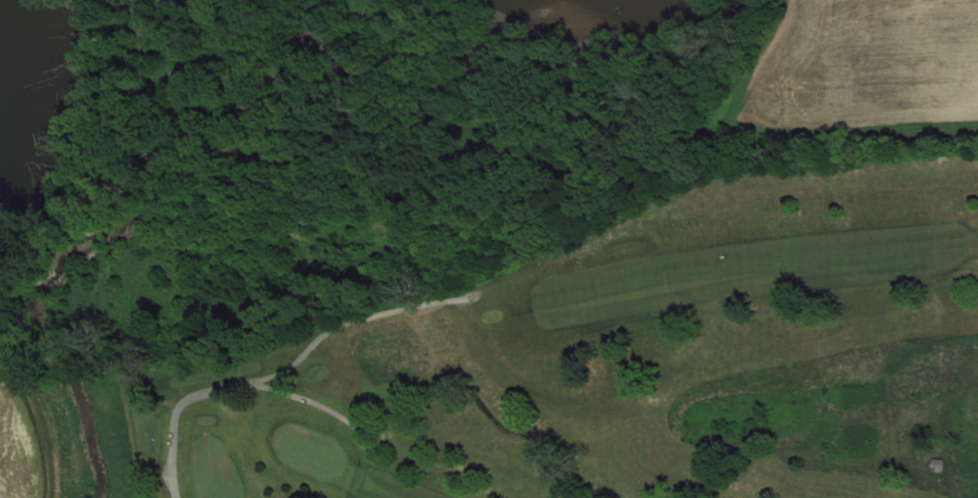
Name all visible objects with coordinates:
park: (595, 364)
park: (314, 459)
park: (217, 475)

